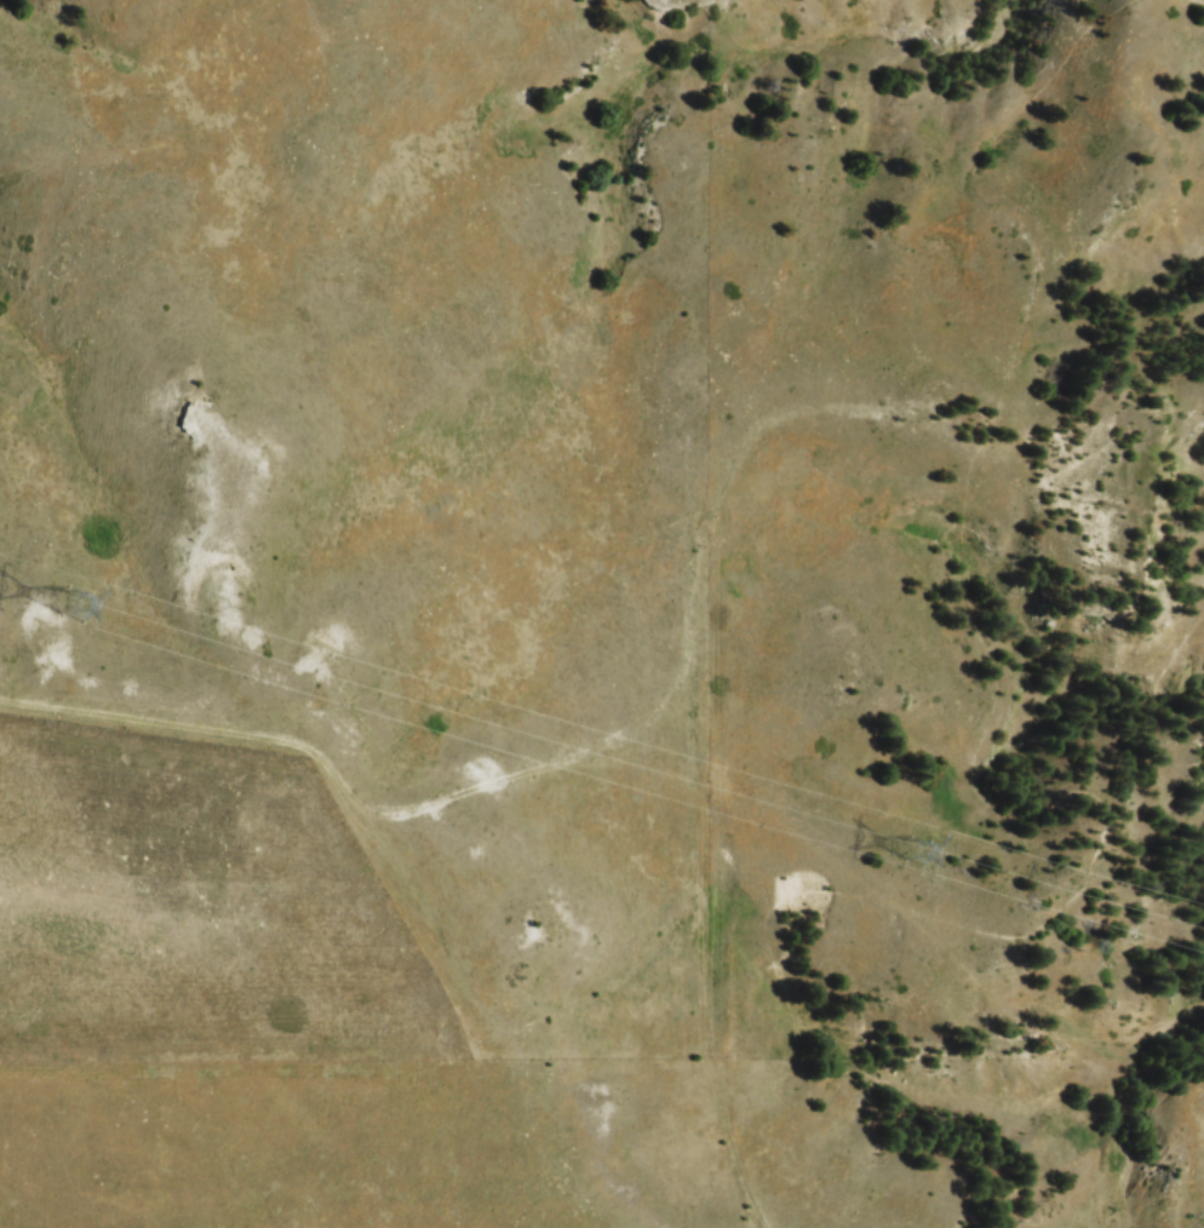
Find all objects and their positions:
power tower: (78, 603)
power tower: (910, 848)

